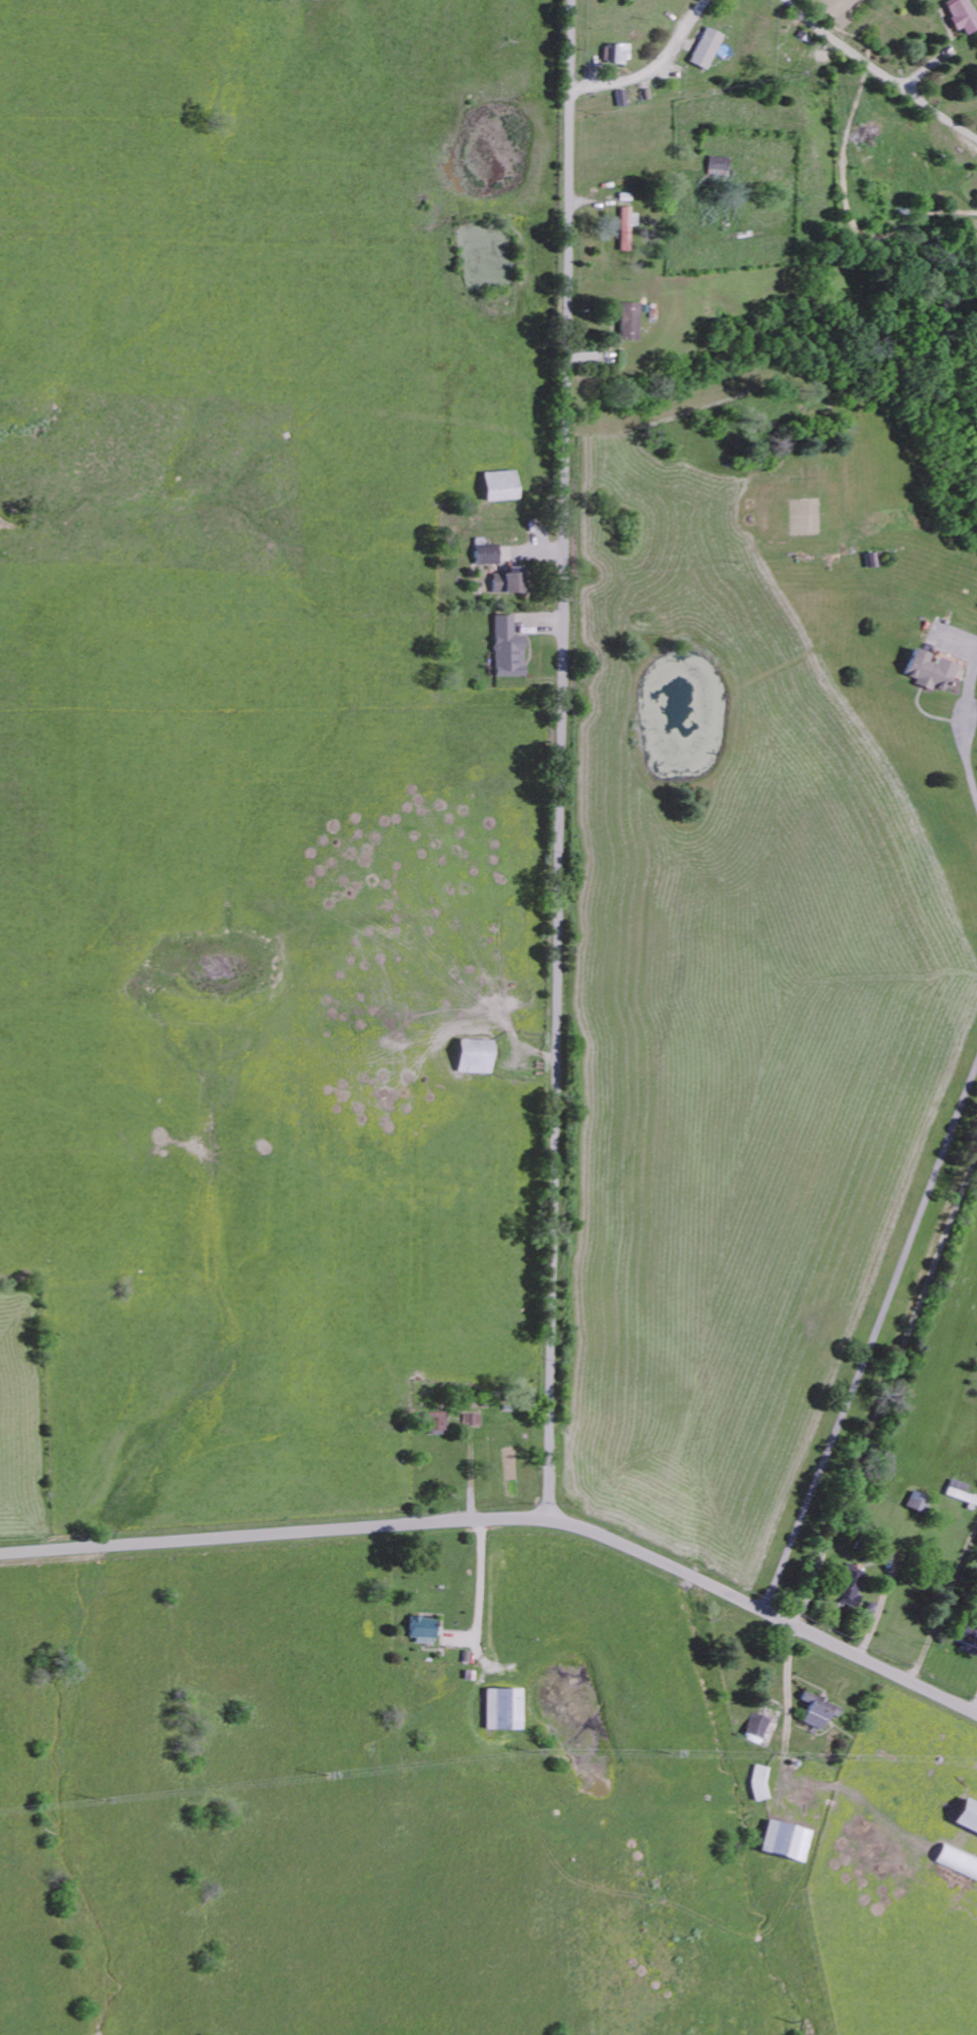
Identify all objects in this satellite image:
building: (961, 14)
building: (706, 48)
building: (620, 53)
road: (649, 68)
road: (877, 73)
building: (625, 229)
building: (628, 321)
building: (498, 485)
building: (485, 554)
building: (506, 581)
building: (506, 648)
building: (926, 670)
road: (963, 739)
road: (566, 760)
building: (473, 1055)
road: (871, 1337)
road: (885, 1380)
building: (435, 1420)
building: (916, 1502)
road: (509, 1519)
road: (481, 1583)
building: (852, 1589)
road: (943, 1602)
building: (419, 1629)
road: (788, 1688)
building: (501, 1708)
road: (976, 1709)
building: (817, 1710)
building: (762, 1730)
building: (966, 1815)
building: (784, 1840)
building: (957, 1860)

